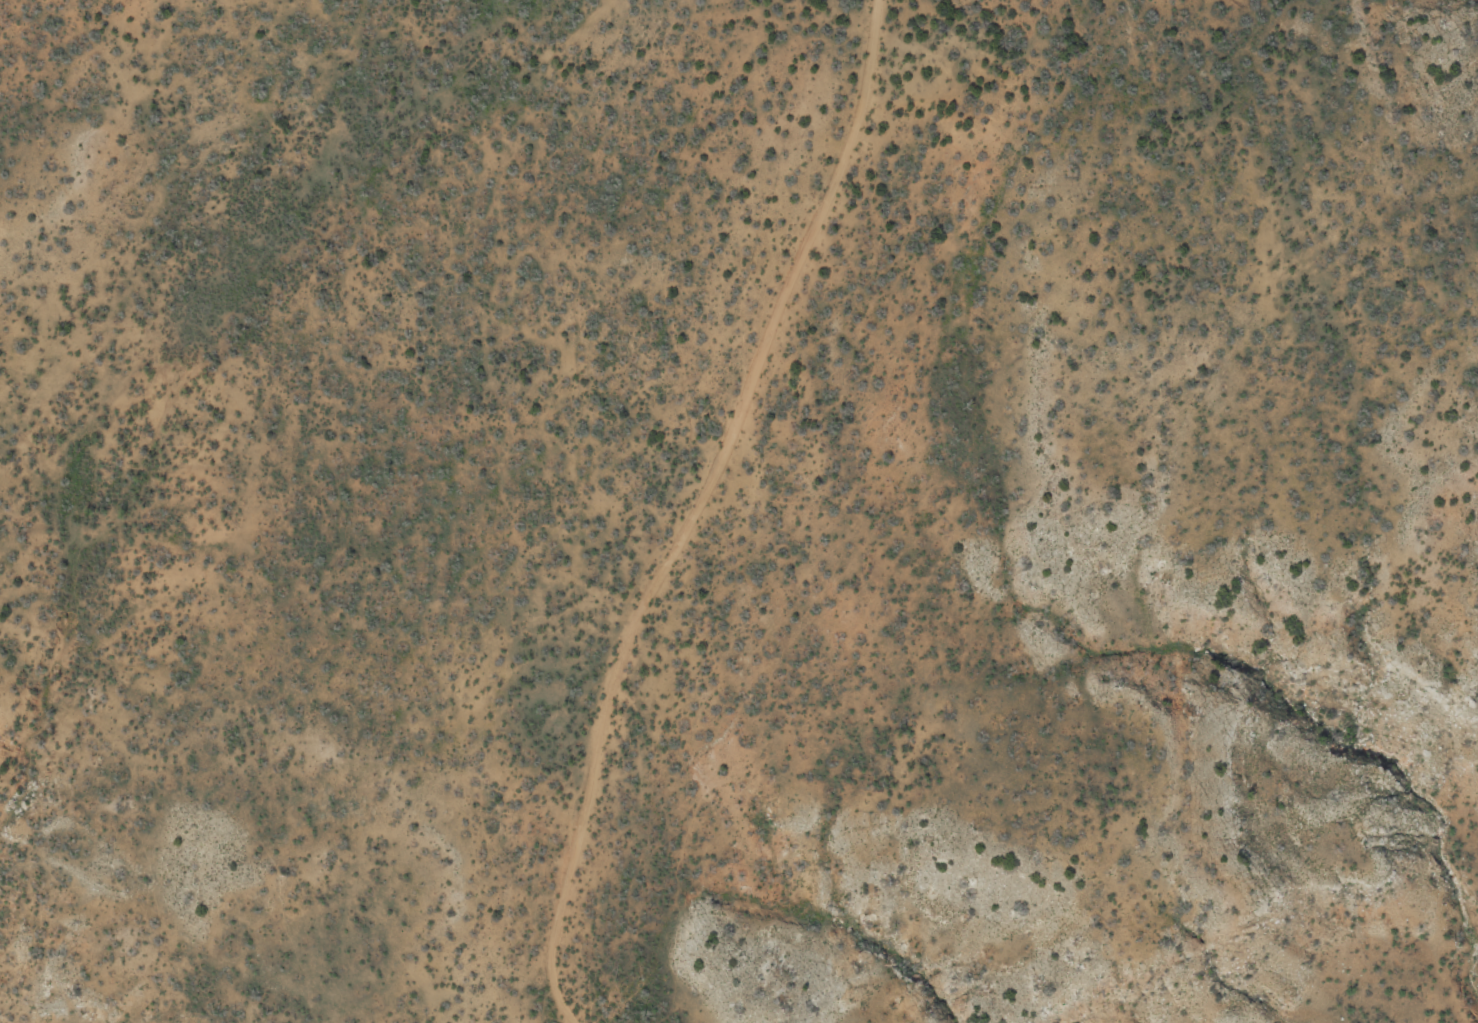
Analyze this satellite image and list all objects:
road: (254, 93)

